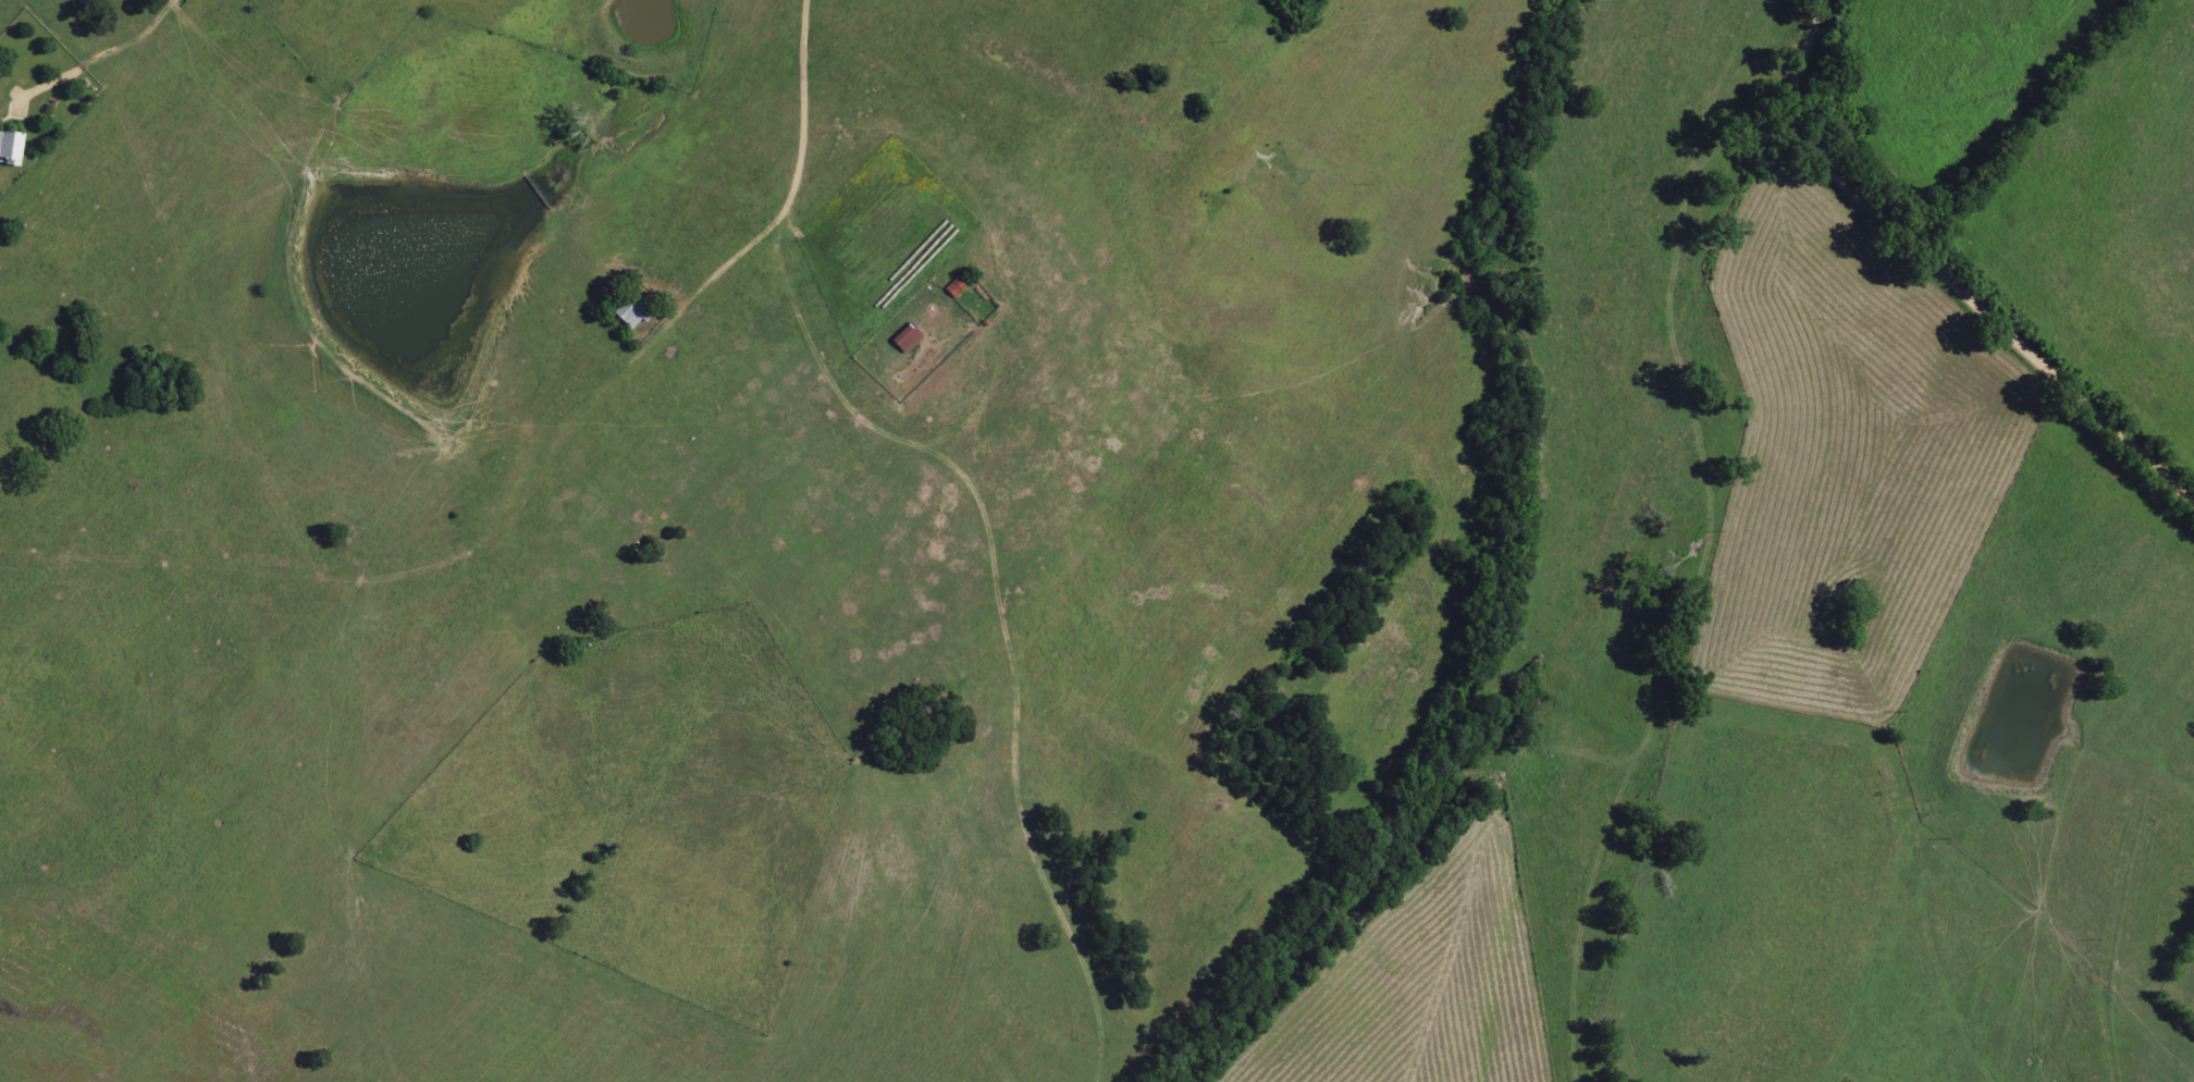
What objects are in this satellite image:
road: (1944, 269)
building: (630, 312)
building: (907, 339)

